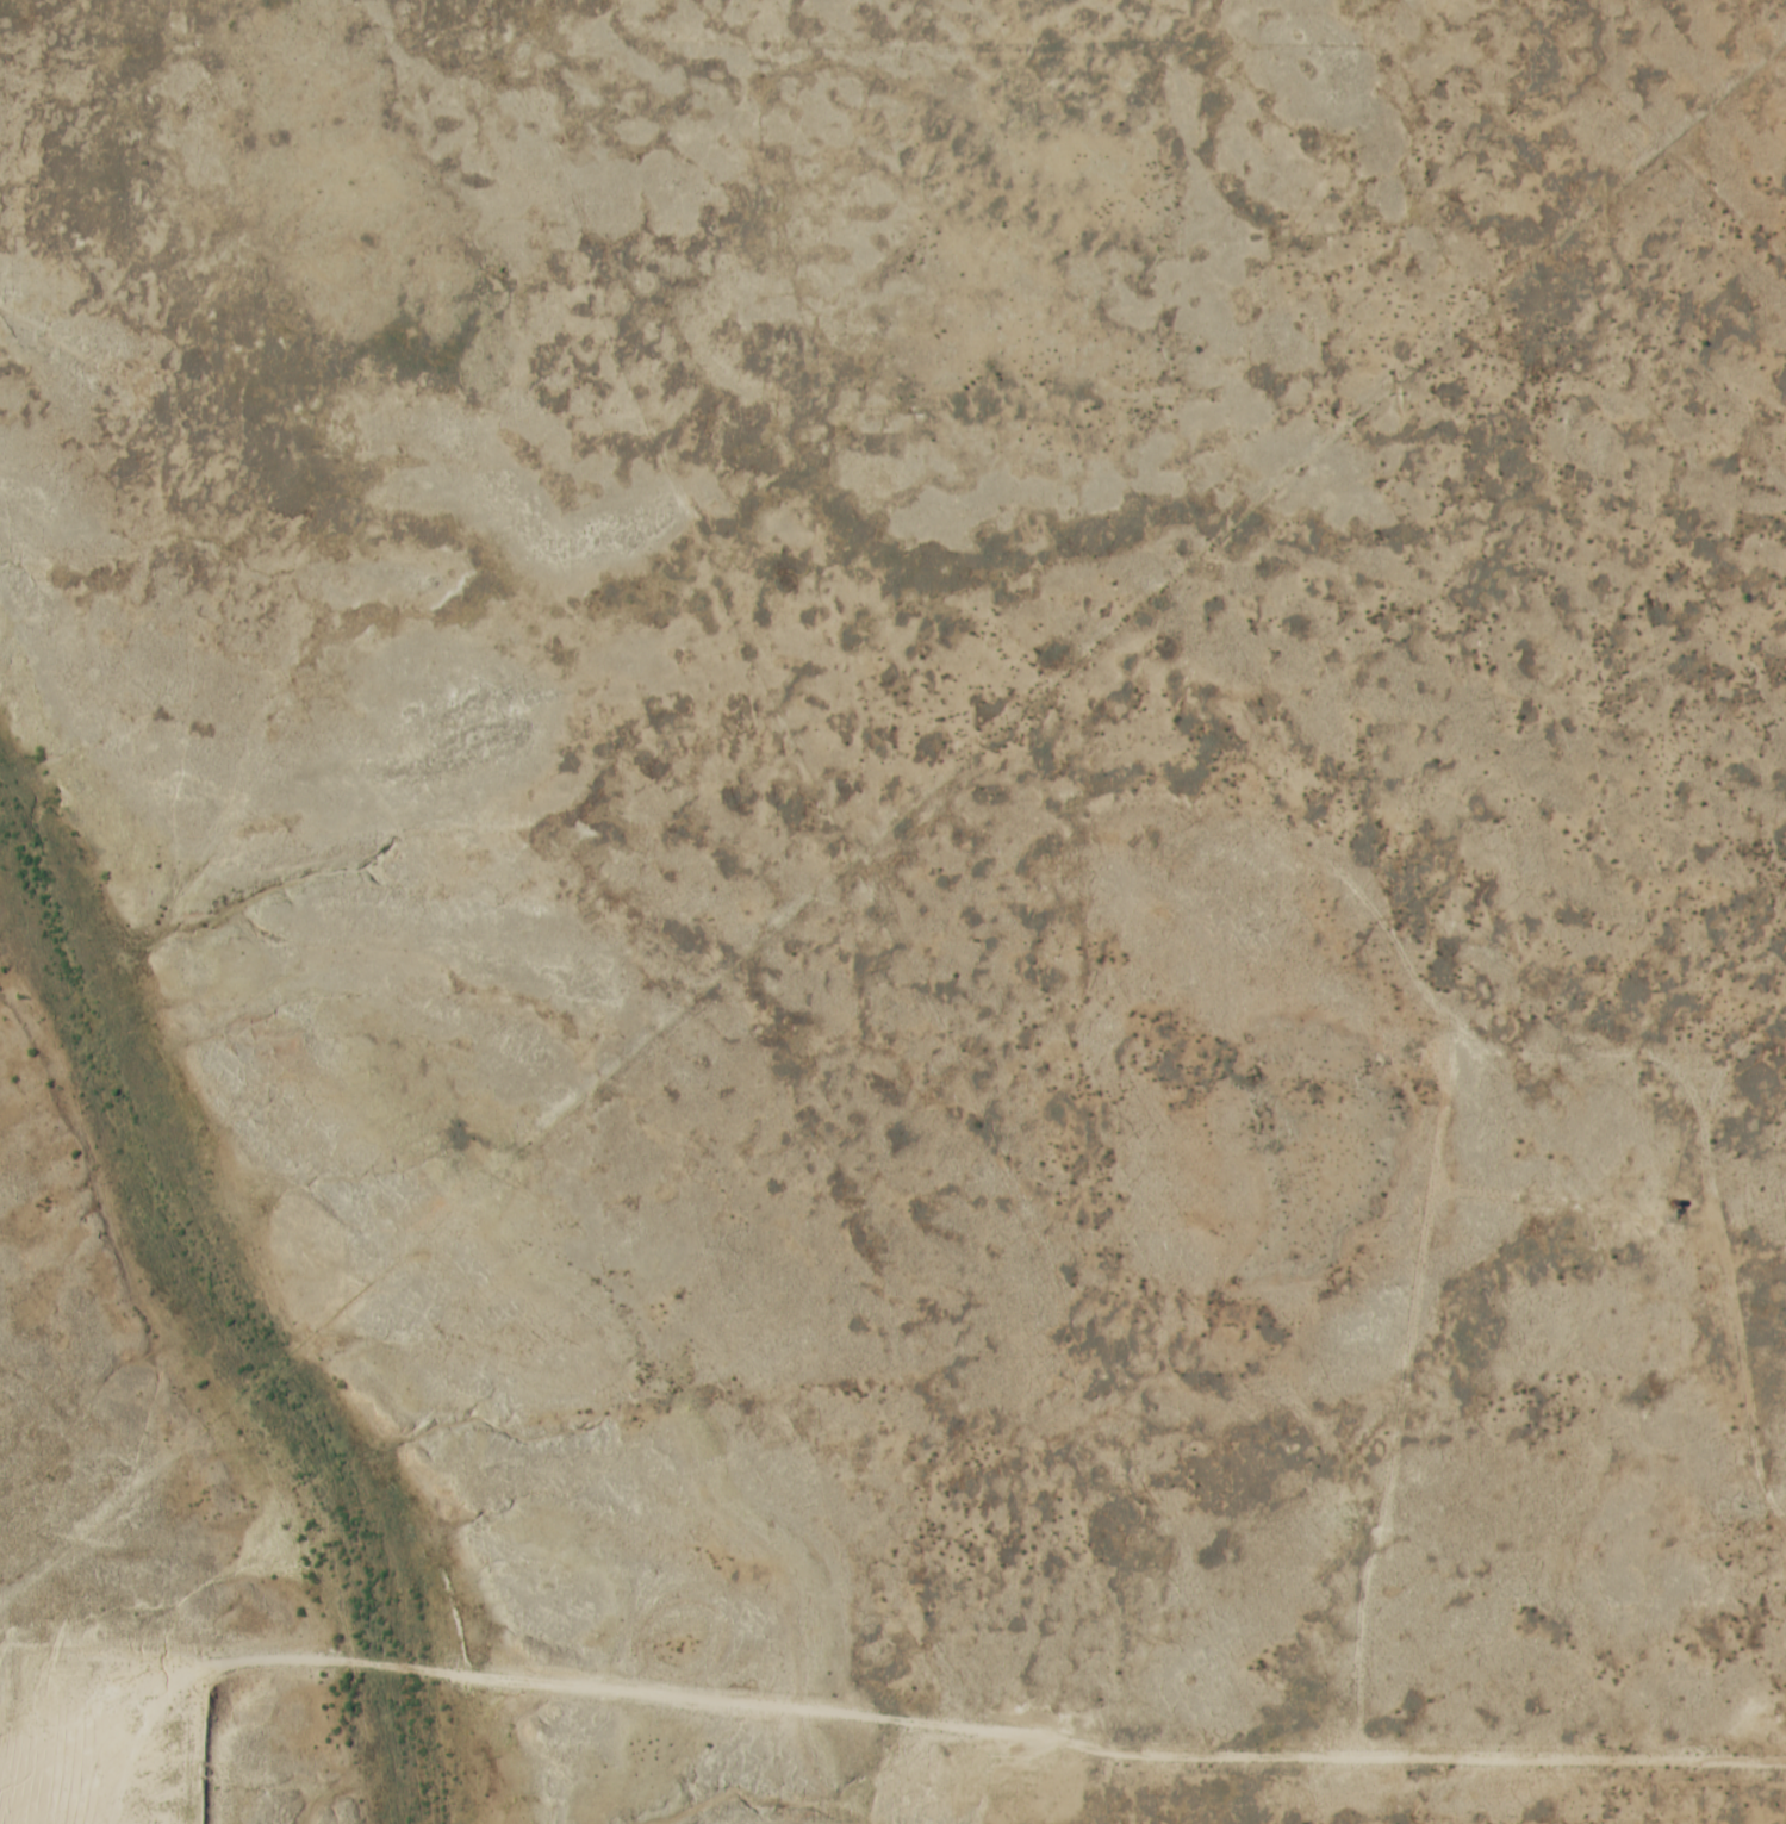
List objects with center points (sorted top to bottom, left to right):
road: (906, 1747)

